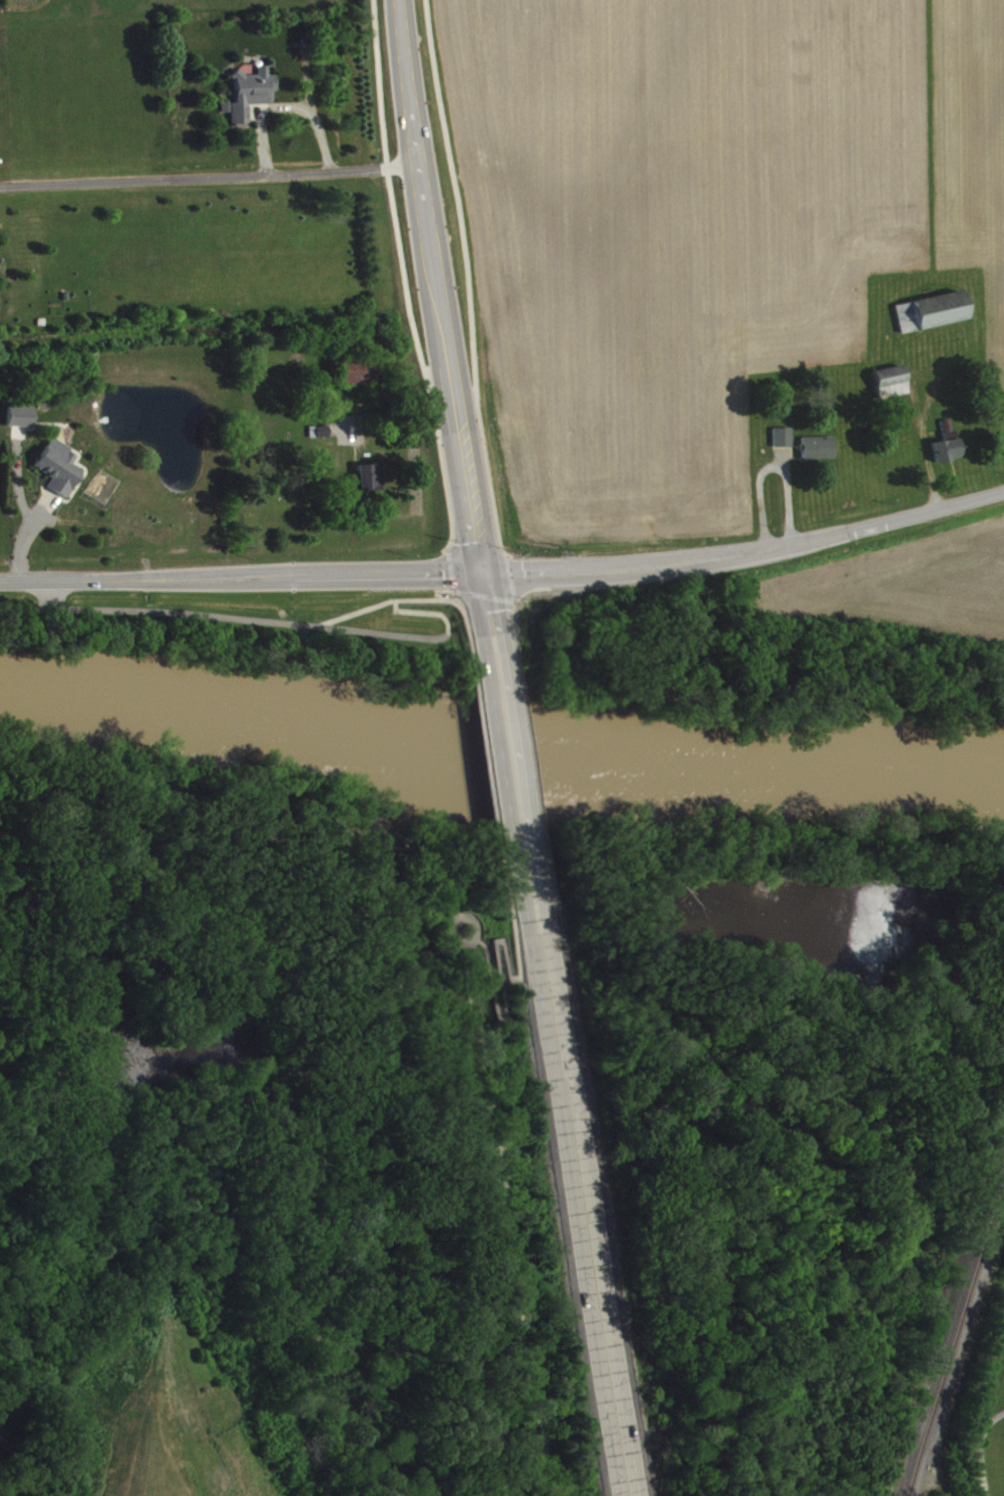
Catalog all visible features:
building: (250, 102)
road: (283, 105)
road: (208, 179)
crop: (717, 222)
road: (402, 277)
road: (466, 279)
road: (439, 316)
building: (932, 319)
building: (356, 378)
building: (891, 389)
building: (22, 423)
building: (783, 445)
building: (819, 455)
building: (946, 457)
building: (60, 474)
building: (368, 484)
road: (446, 567)
traffic signals: (477, 571)
road: (506, 571)
road: (505, 576)
road: (466, 591)
road: (350, 614)
road: (310, 627)
river: (500, 755)
road: (509, 769)
road: (486, 771)
road: (455, 939)
road: (492, 964)
road: (508, 1196)
road: (570, 1201)
railway: (955, 1335)
park: (985, 1424)

